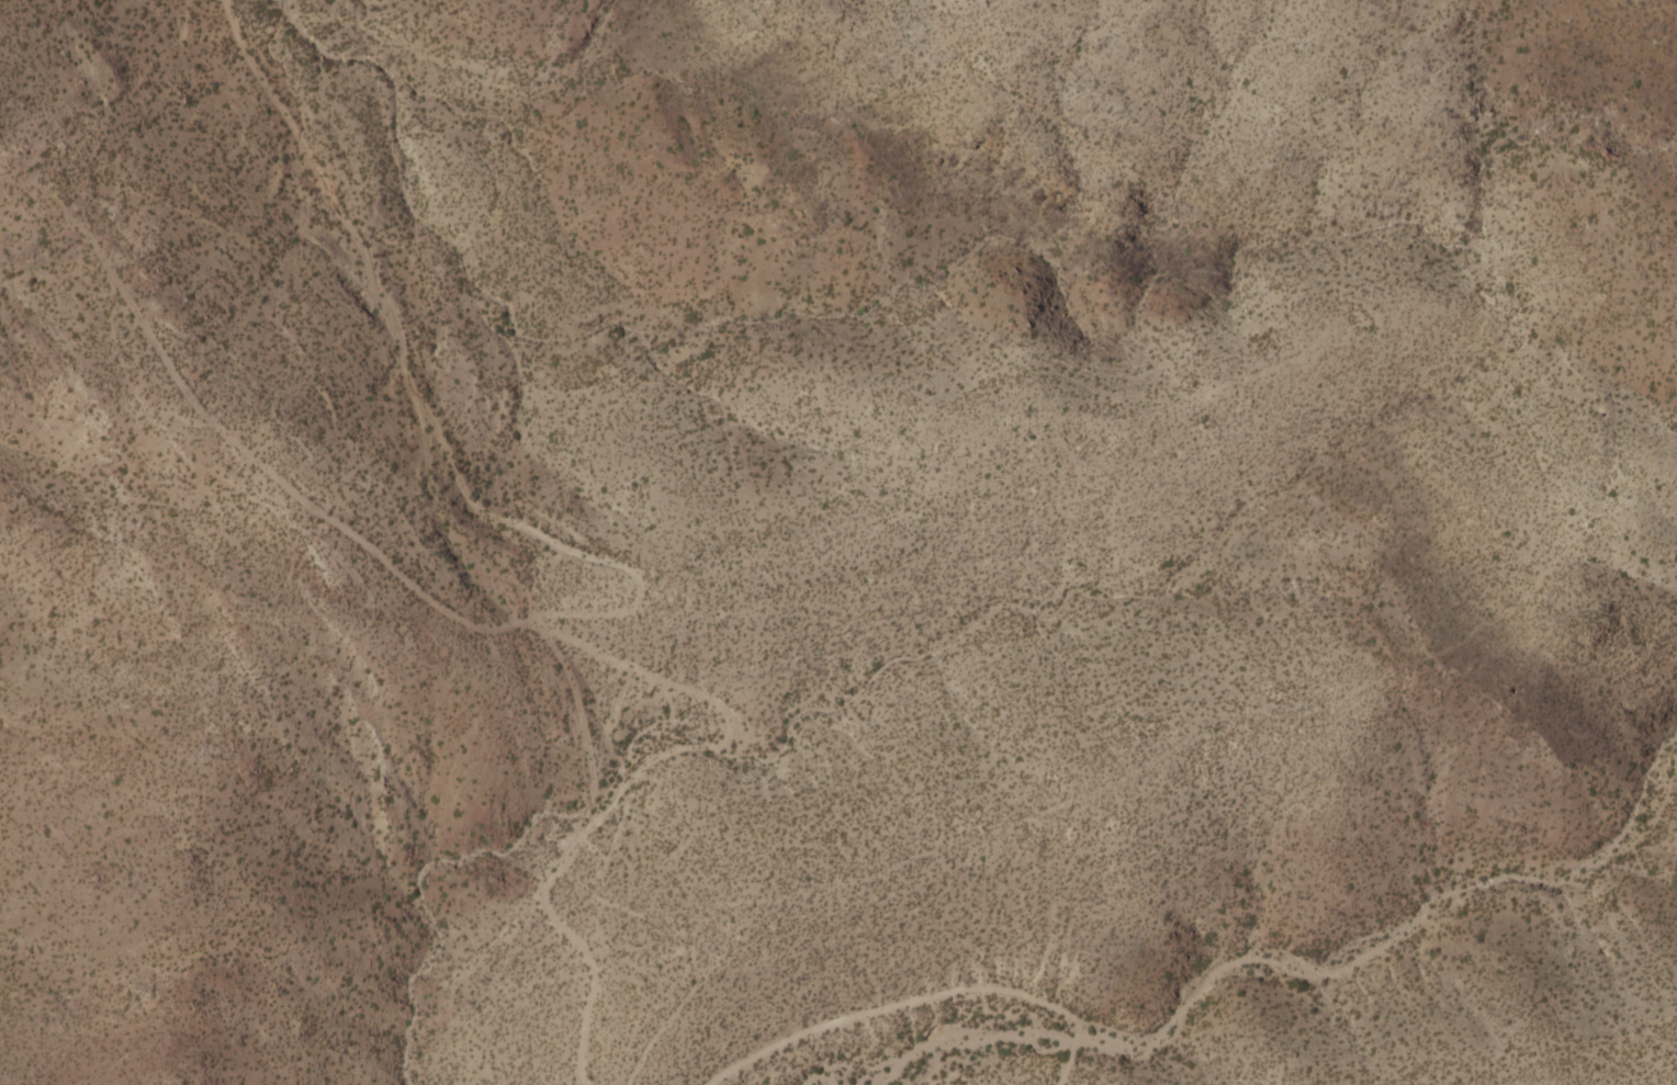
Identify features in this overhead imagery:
road: (630, 607)
road: (631, 776)
road: (931, 1002)

